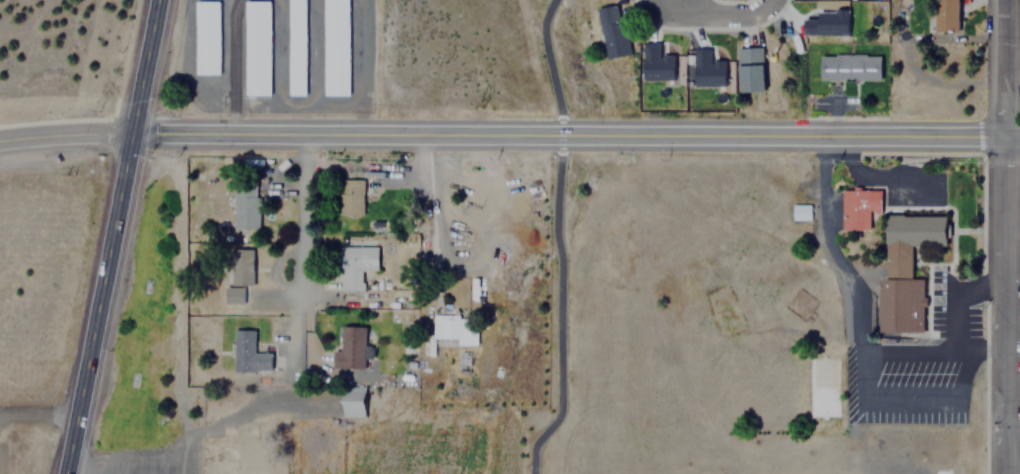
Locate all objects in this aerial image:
road: (722, 13)
building: (945, 16)
building: (828, 22)
building: (611, 32)
building: (211, 36)
building: (300, 45)
building: (261, 46)
building: (341, 46)
building: (658, 62)
building: (849, 67)
building: (709, 69)
building: (749, 69)
road: (66, 134)
road: (576, 135)
building: (349, 196)
building: (245, 205)
building: (858, 206)
building: (799, 211)
road: (303, 218)
road: (999, 236)
road: (114, 237)
road: (543, 249)
building: (354, 264)
building: (243, 267)
building: (905, 267)
building: (233, 294)
building: (449, 327)
building: (349, 347)
building: (247, 353)
parking lot: (912, 370)
building: (352, 401)
building: (246, 444)

